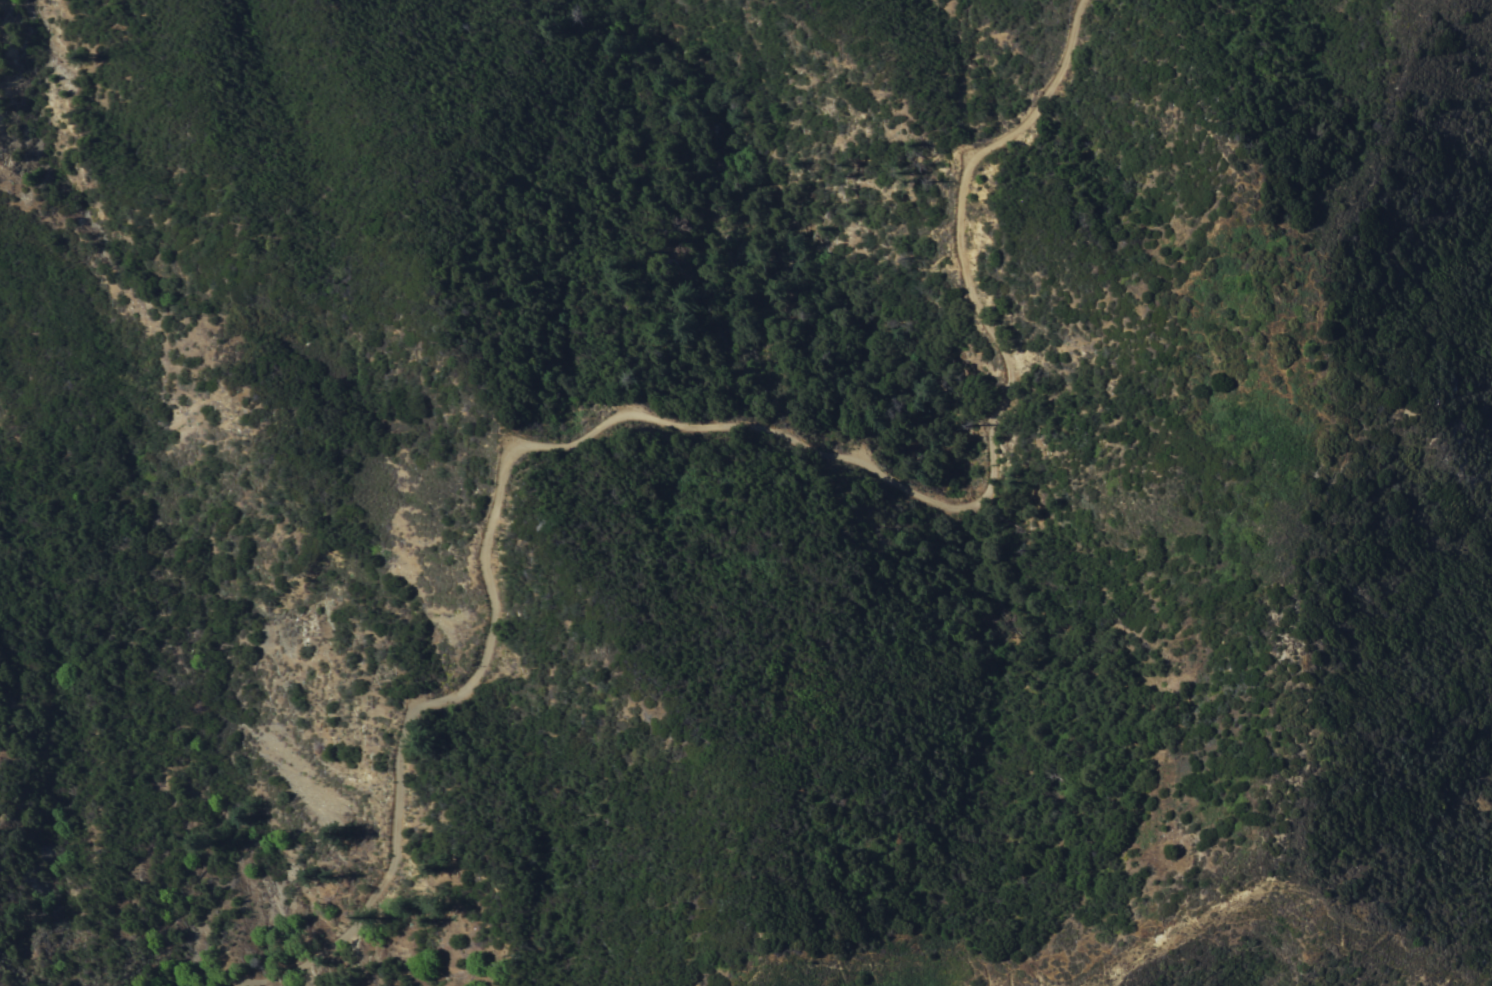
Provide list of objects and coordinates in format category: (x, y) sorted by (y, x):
road: (698, 424)

